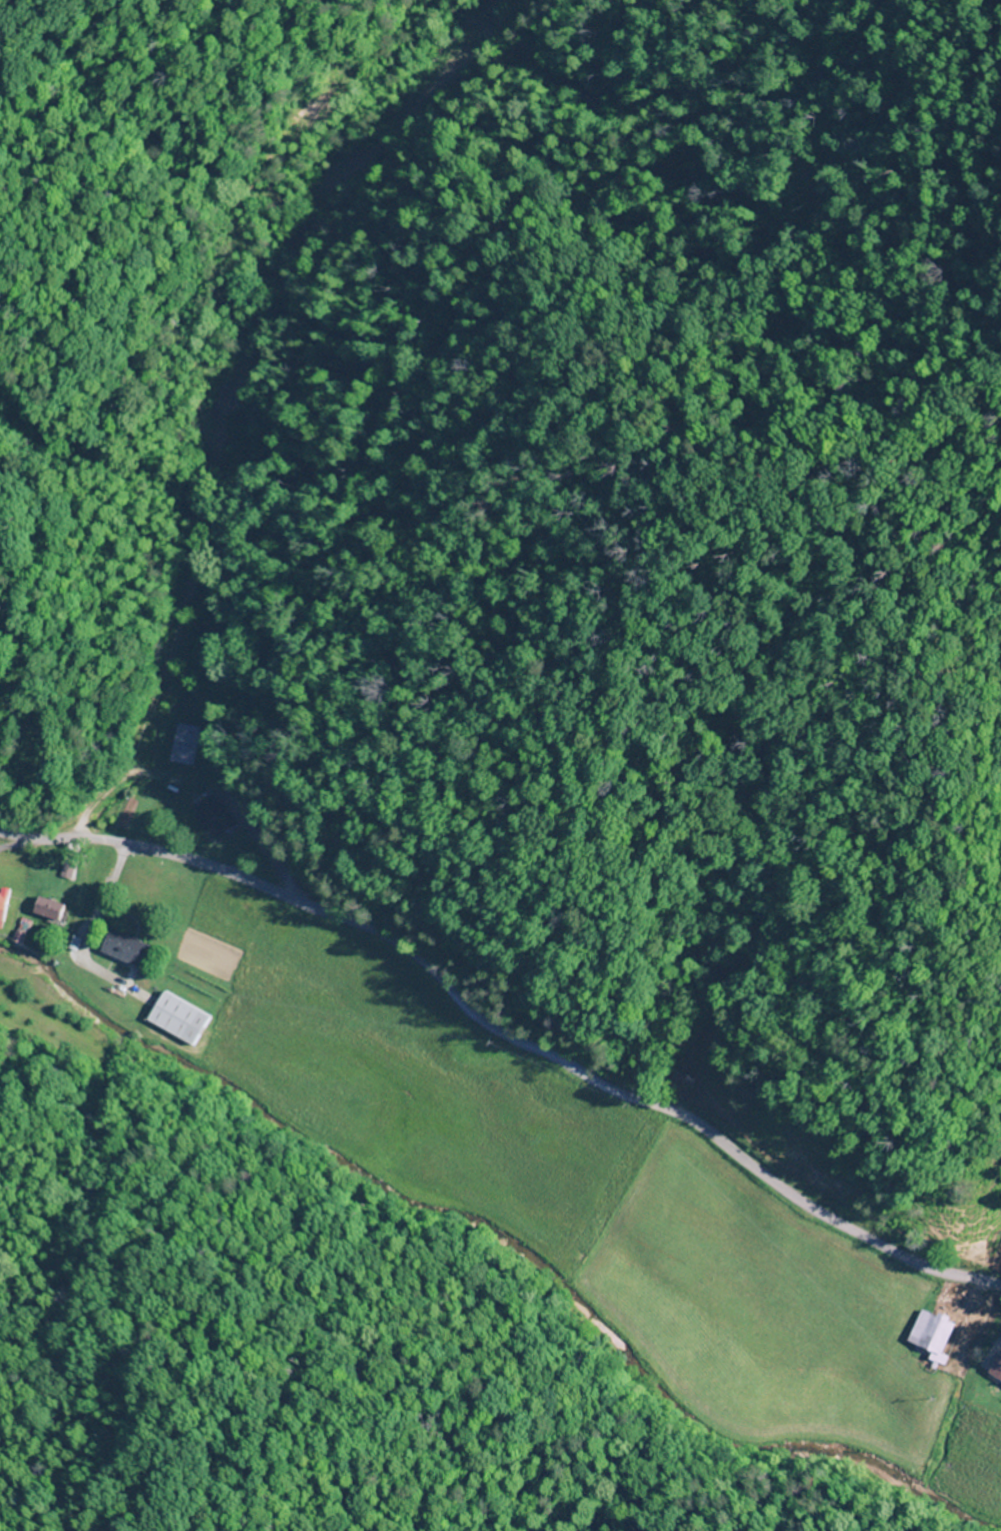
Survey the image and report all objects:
building: (186, 745)
building: (215, 818)
building: (4, 904)
building: (54, 908)
building: (131, 947)
building: (181, 1019)
road: (504, 1037)
building: (937, 1330)
building: (995, 1370)

